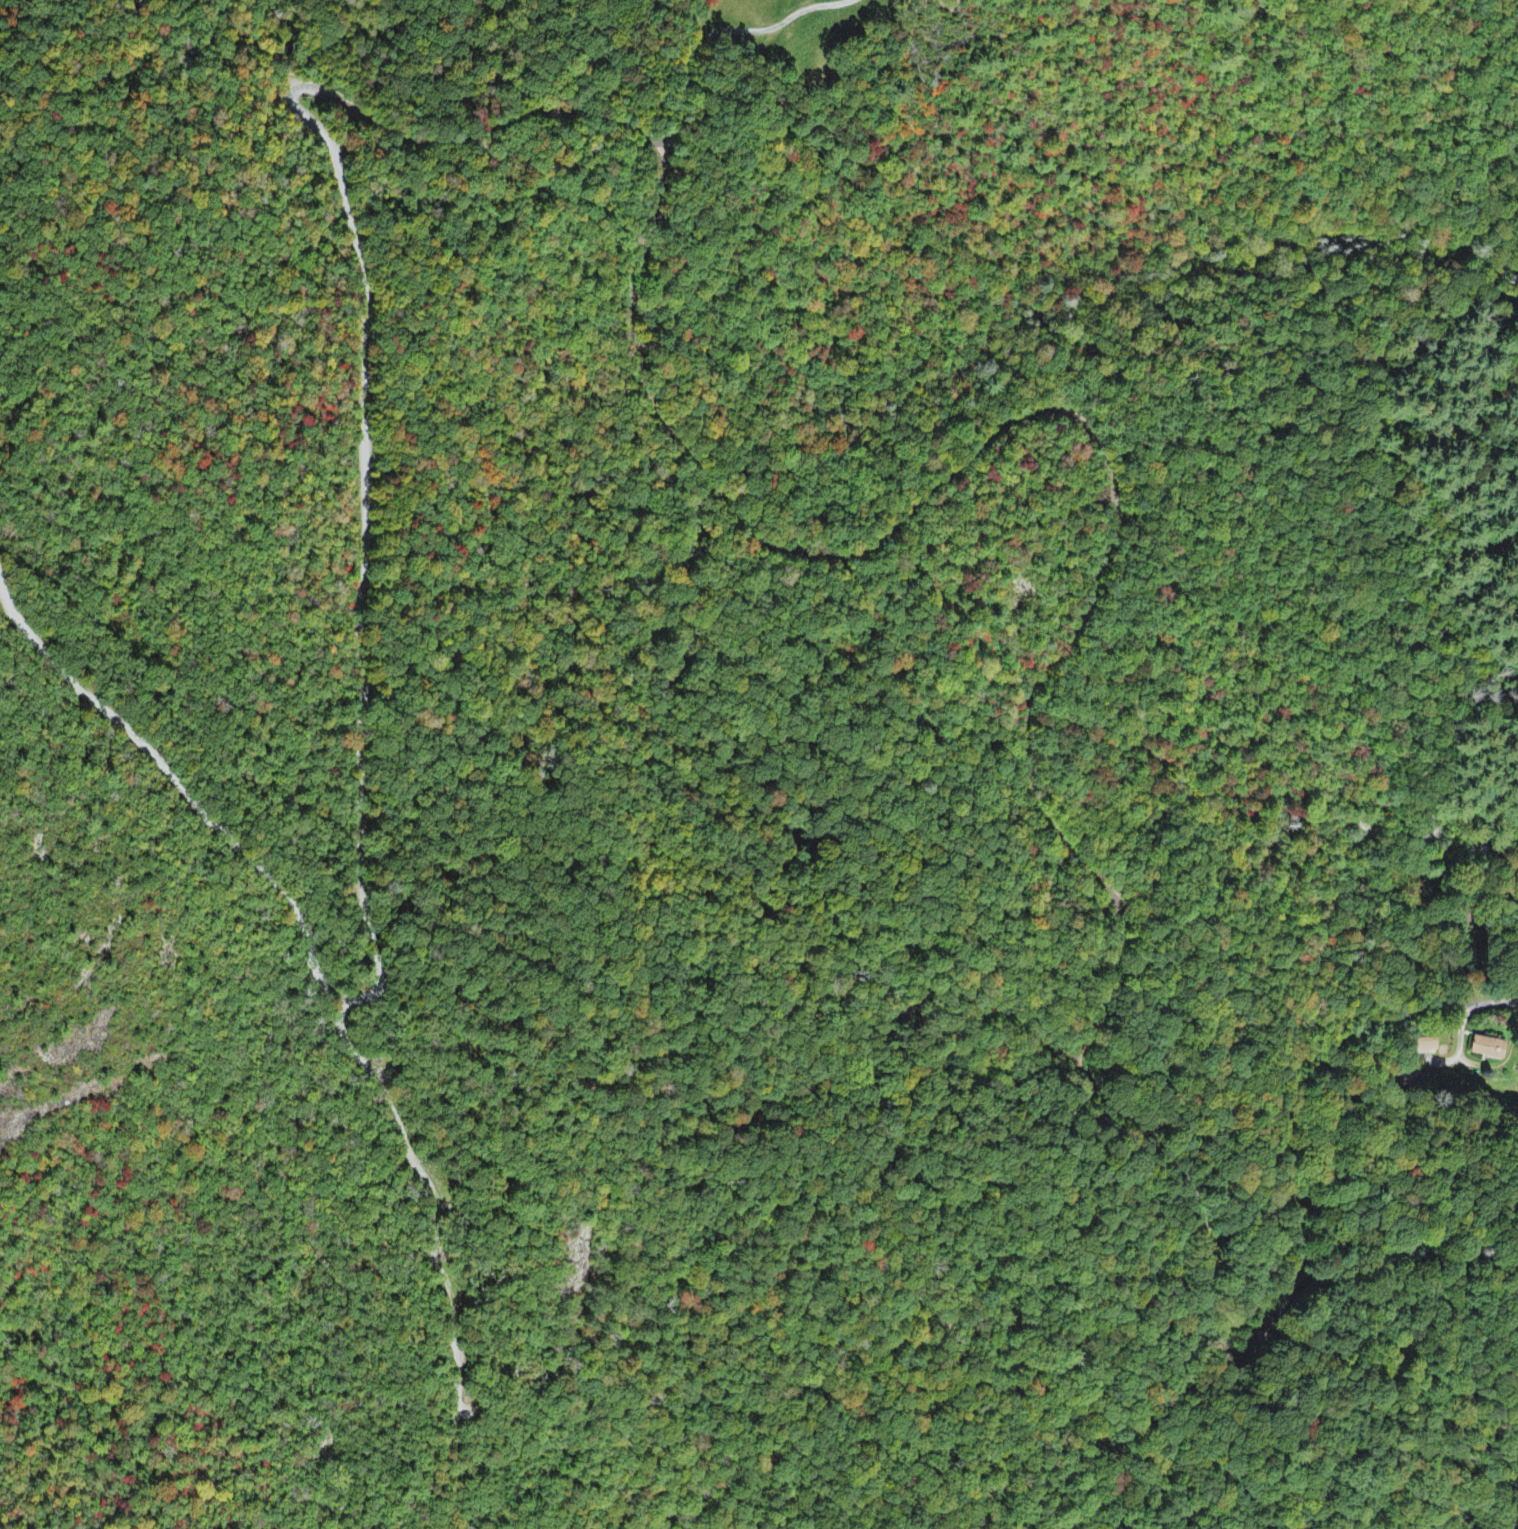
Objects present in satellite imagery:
road: (361, 626)
road: (1020, 714)
building: (1491, 1049)

